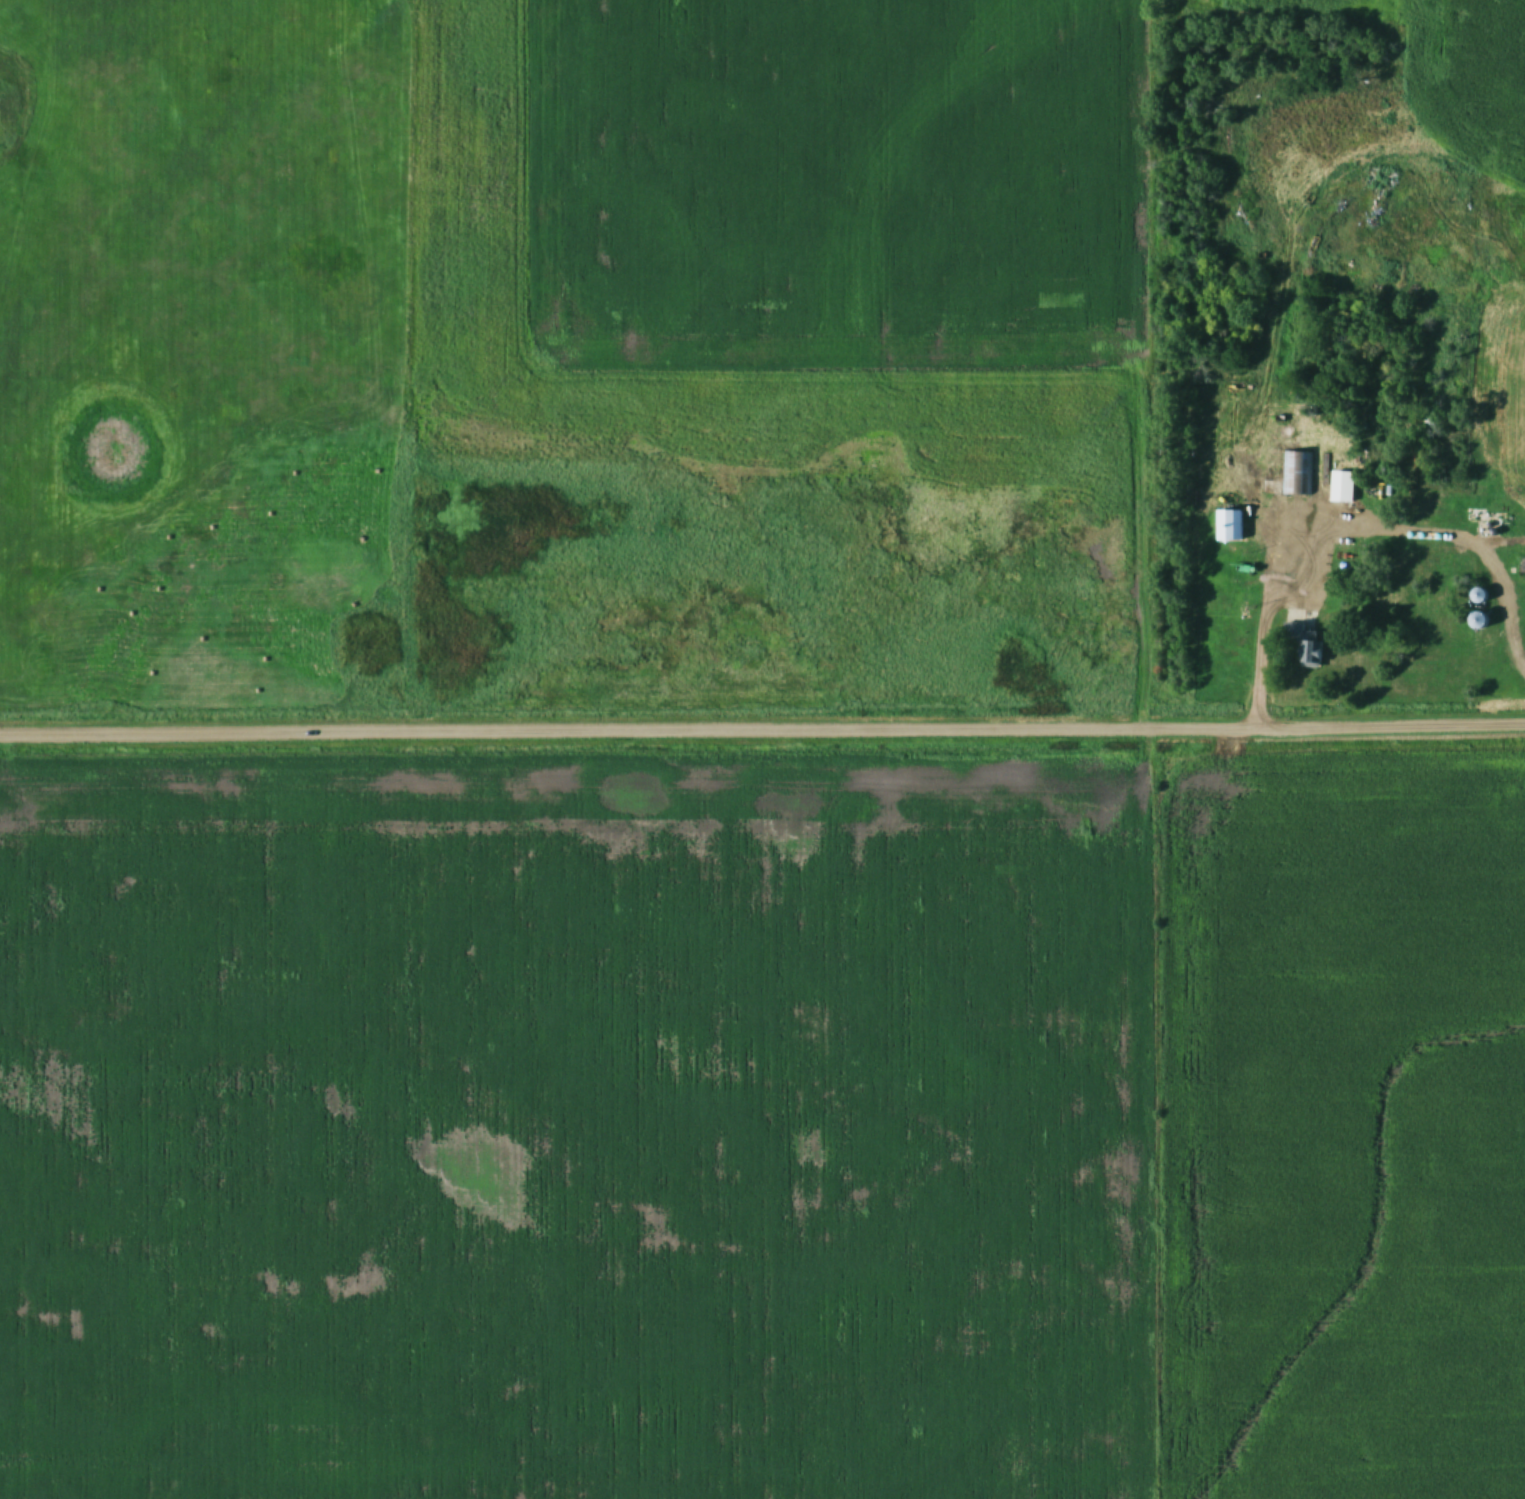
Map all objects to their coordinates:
building: (1293, 473)
building: (1340, 487)
road: (1352, 514)
building: (1229, 527)
building: (1520, 566)
building: (1476, 596)
building: (1475, 621)
building: (1302, 646)
road: (762, 718)

